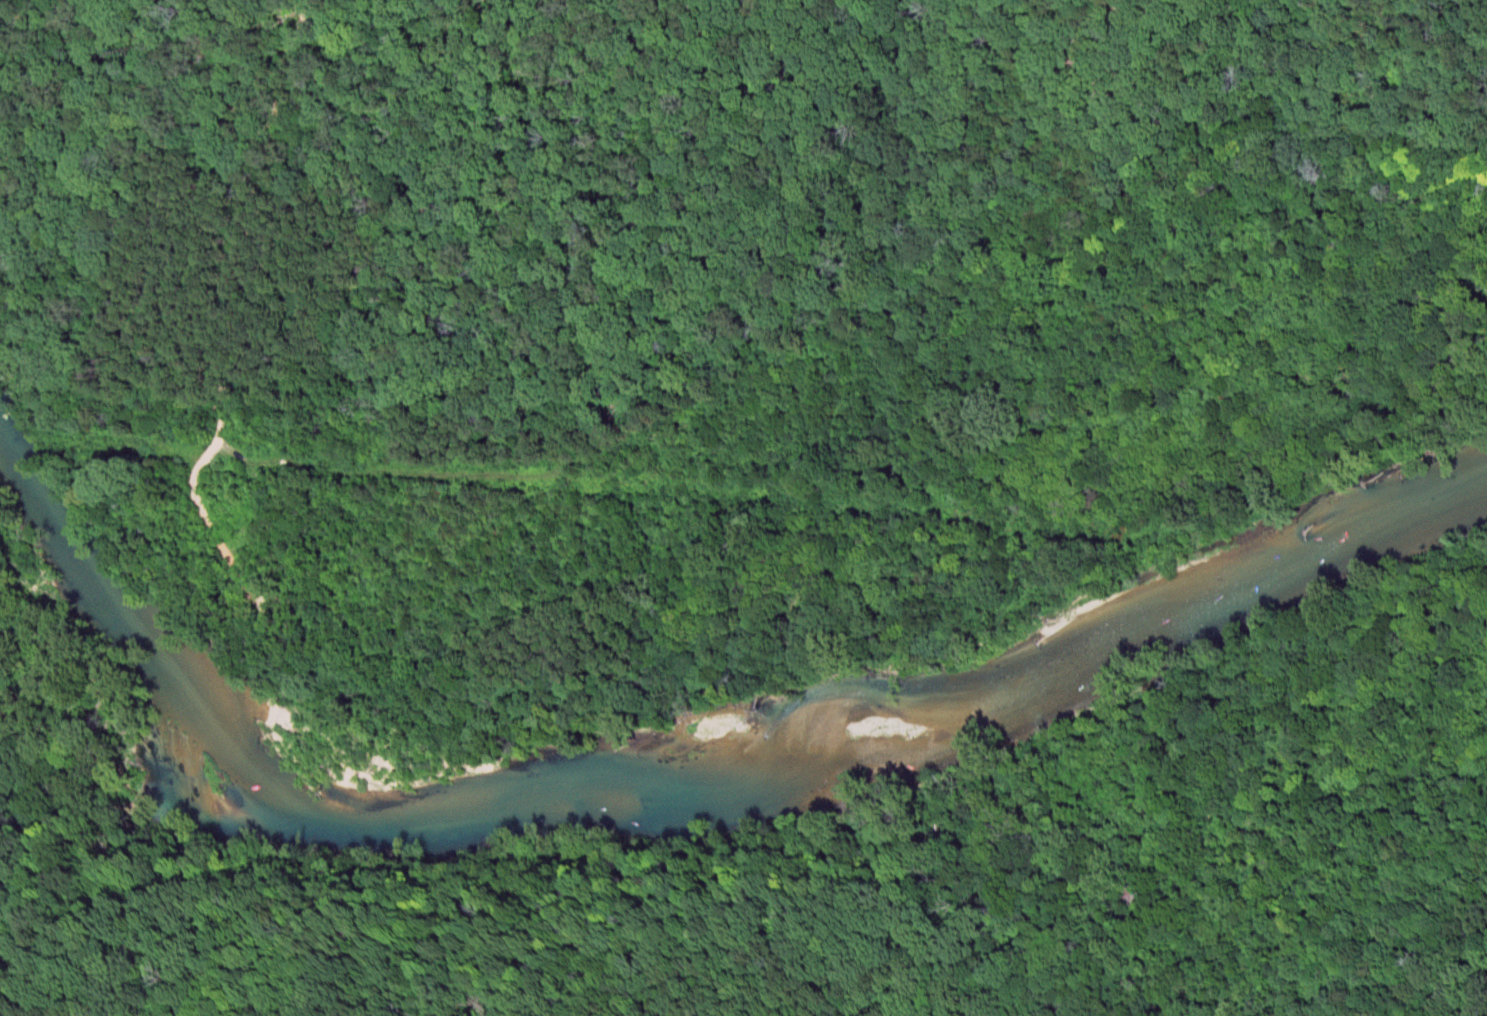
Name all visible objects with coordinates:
road: (246, 188)
road: (1401, 771)
river: (685, 798)

